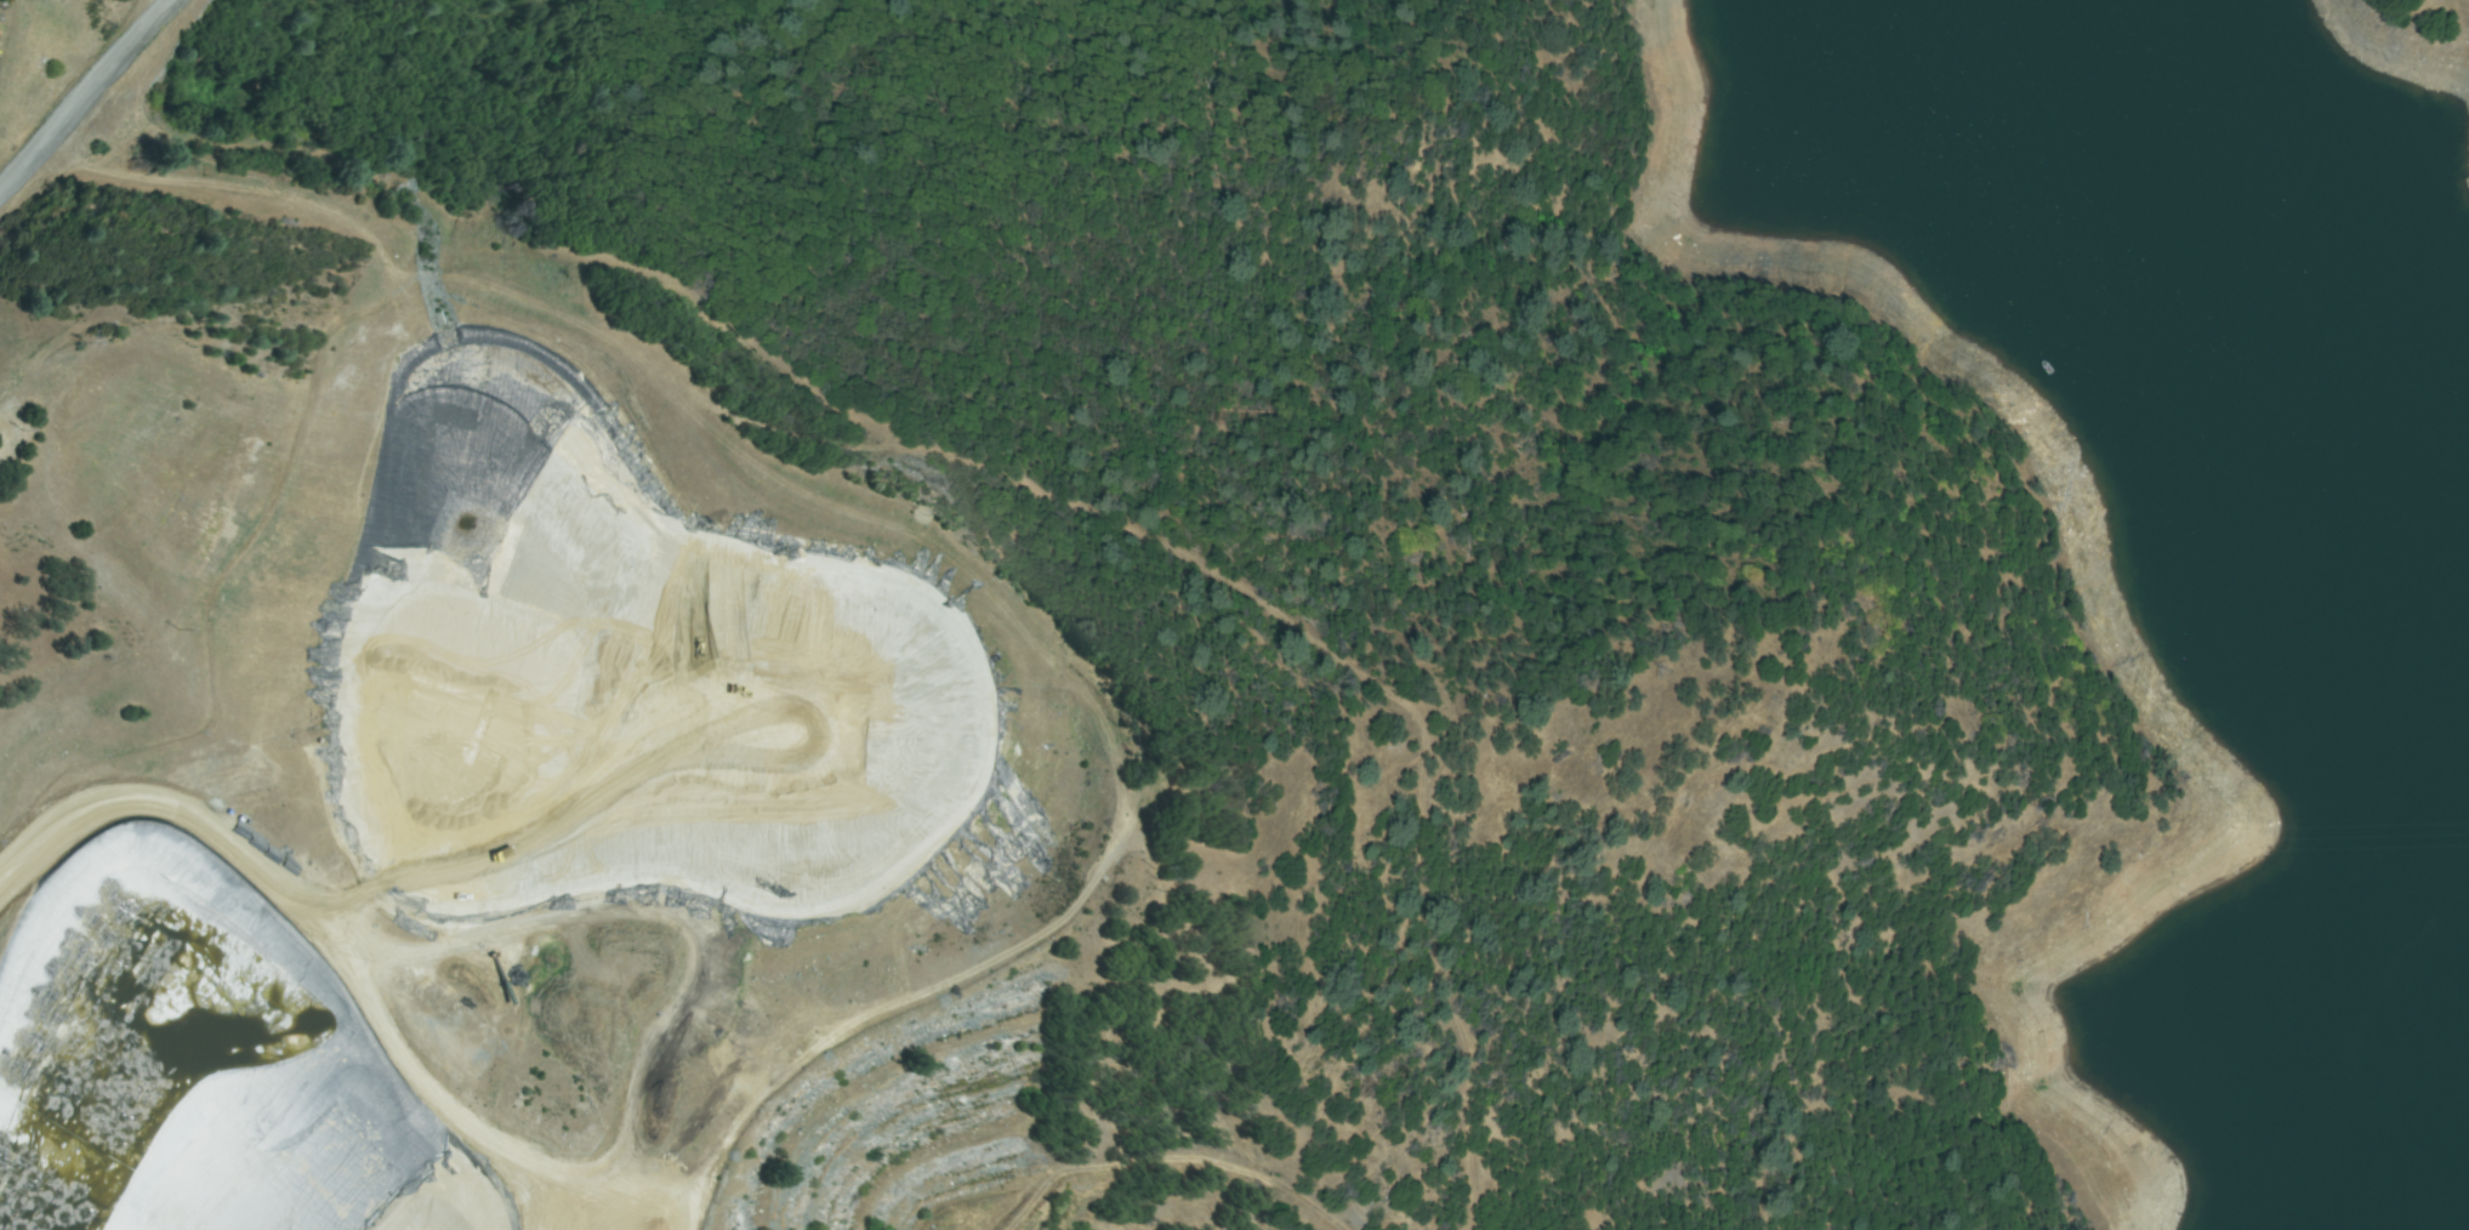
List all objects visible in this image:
road: (83, 95)

